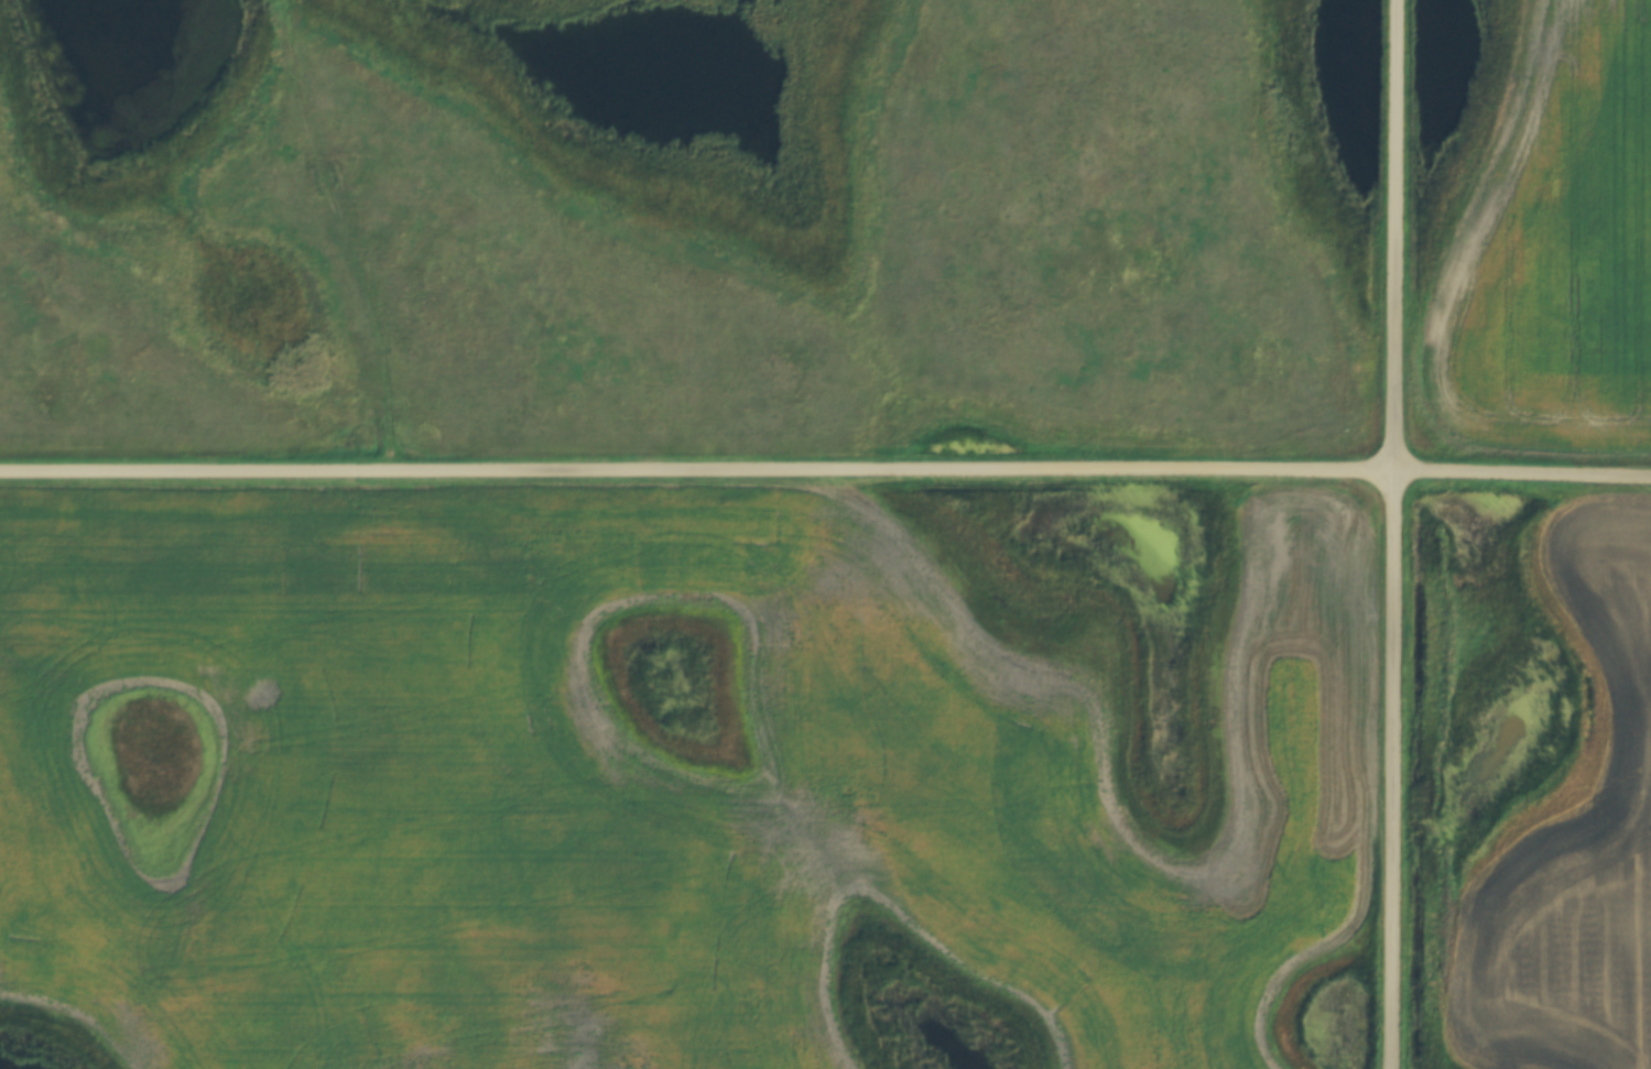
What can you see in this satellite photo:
road: (350, 233)
road: (825, 469)
road: (1403, 534)

